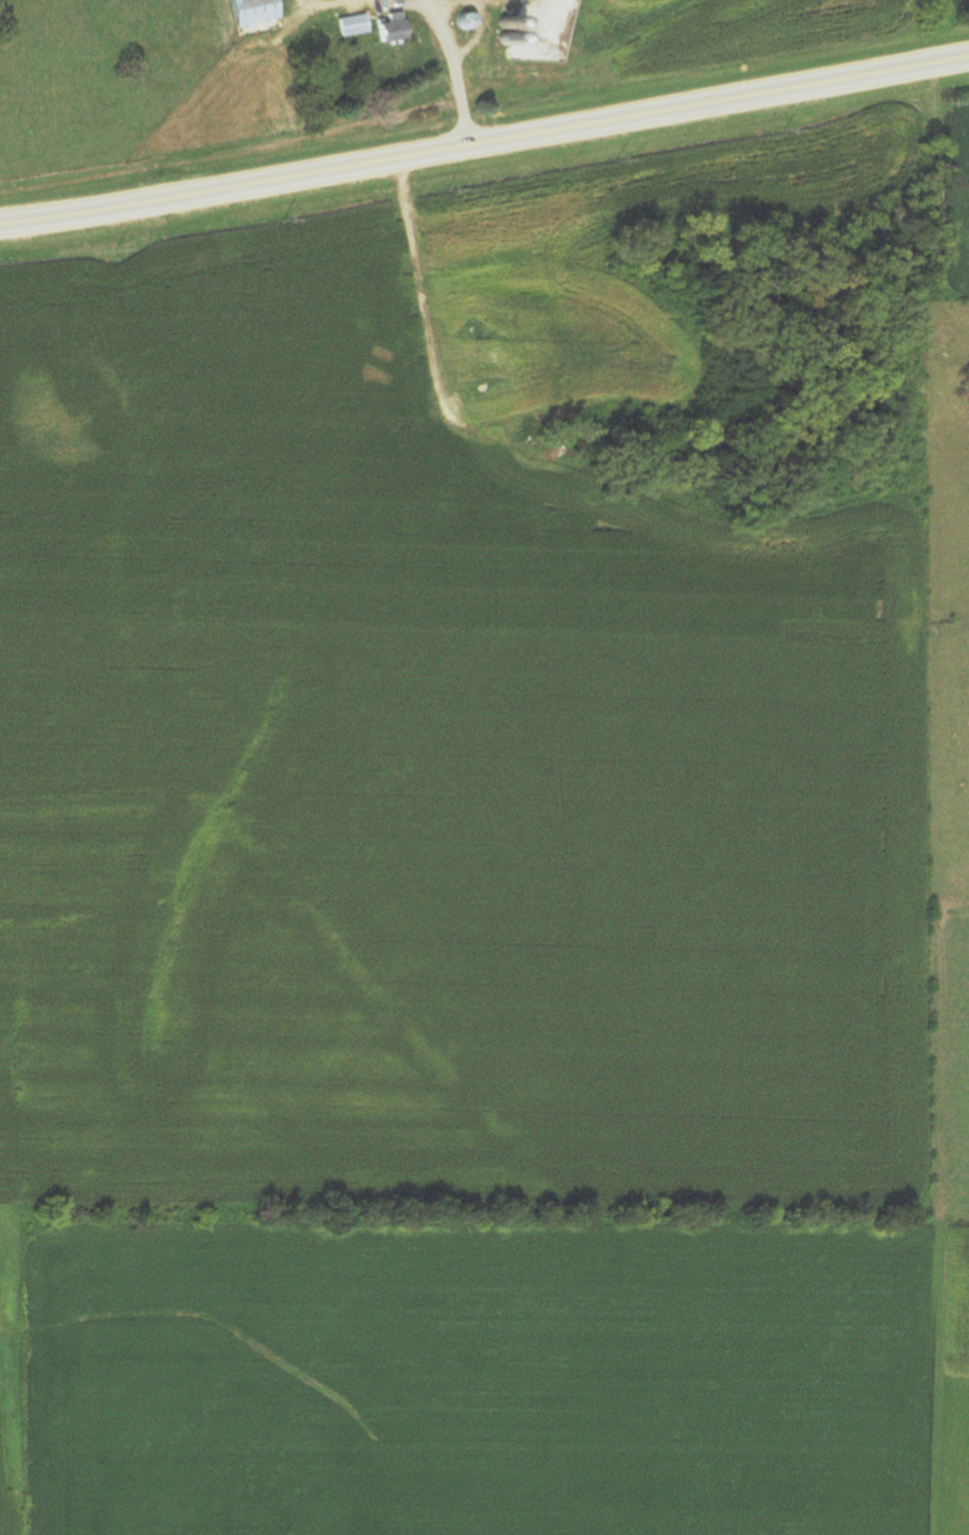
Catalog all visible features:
road: (336, 3)
road: (462, 3)
building: (251, 11)
building: (467, 19)
building: (505, 22)
building: (349, 26)
building: (387, 29)
road: (474, 36)
building: (505, 39)
road: (454, 71)
road: (485, 144)
road: (530, 594)

